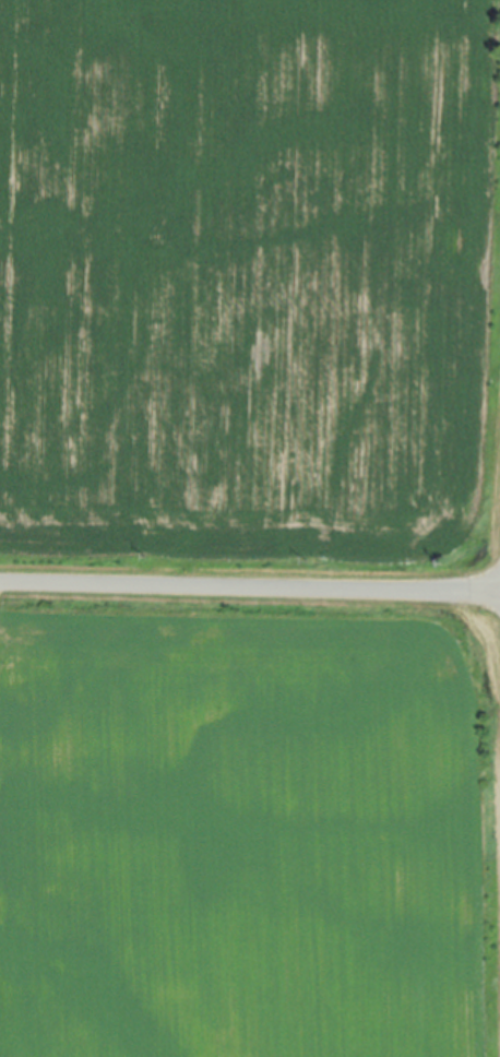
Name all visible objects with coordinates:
road: (250, 586)

